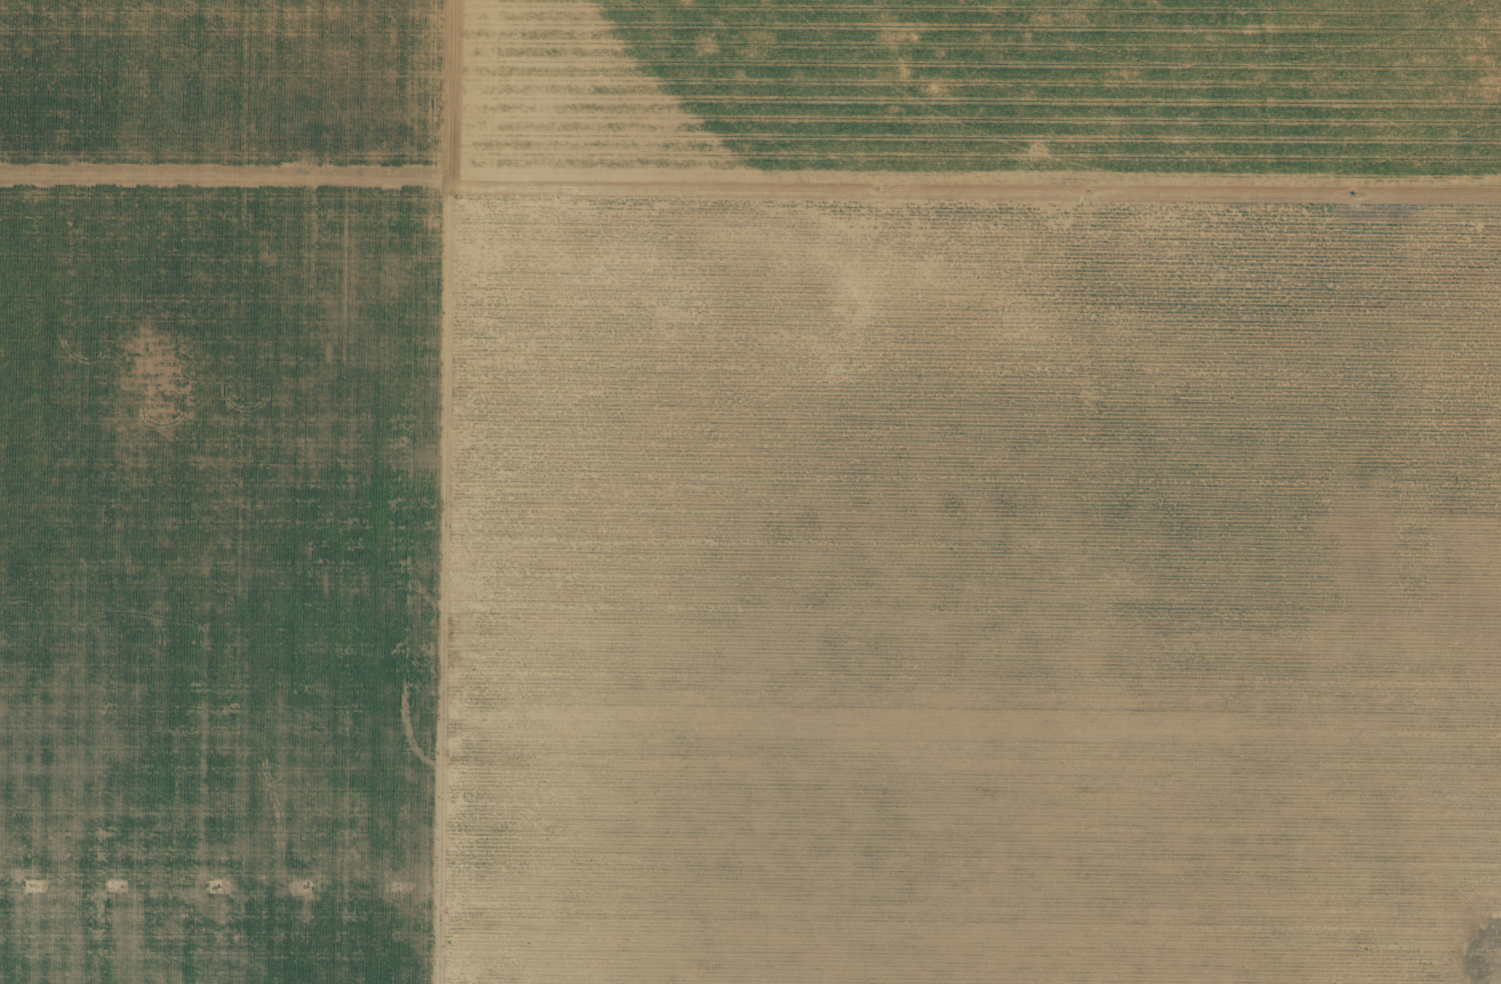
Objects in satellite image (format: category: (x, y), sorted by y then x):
road: (750, 184)
road: (470, 492)

